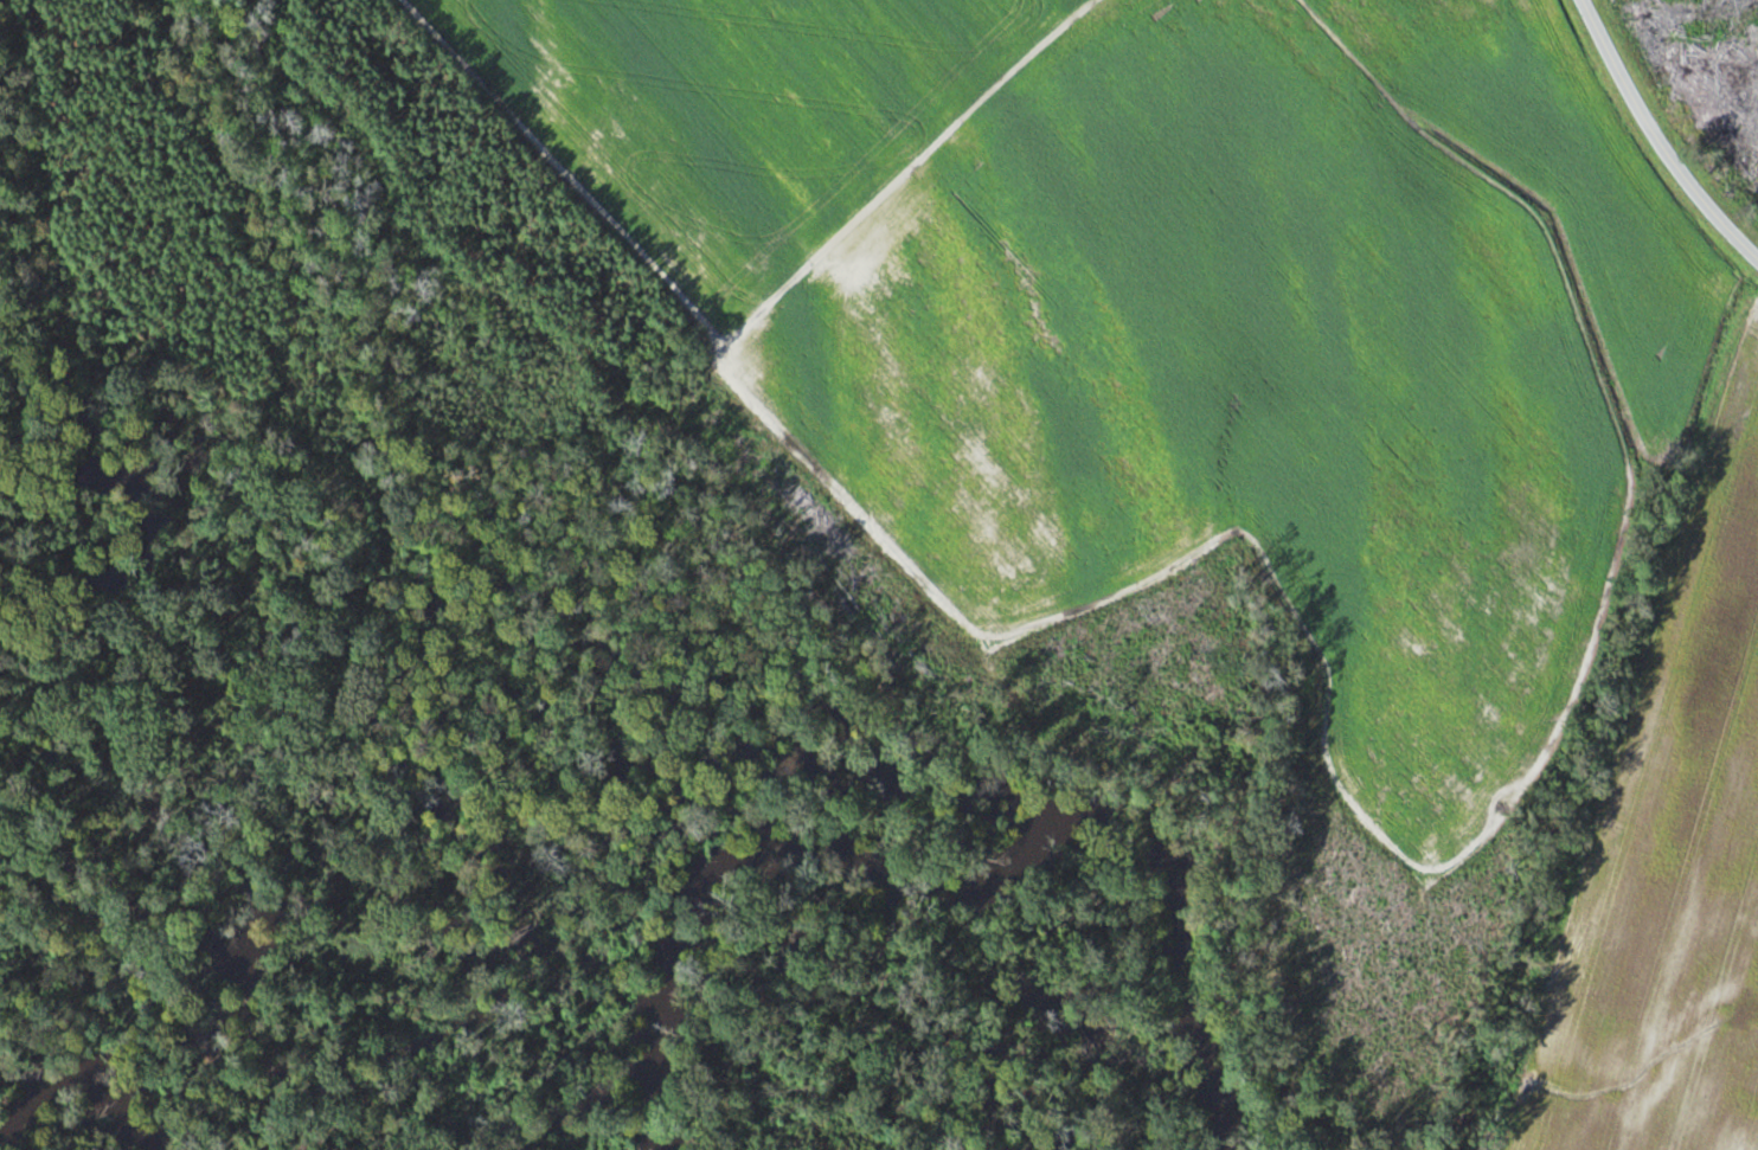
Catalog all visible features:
road: (1658, 136)
river: (975, 907)

